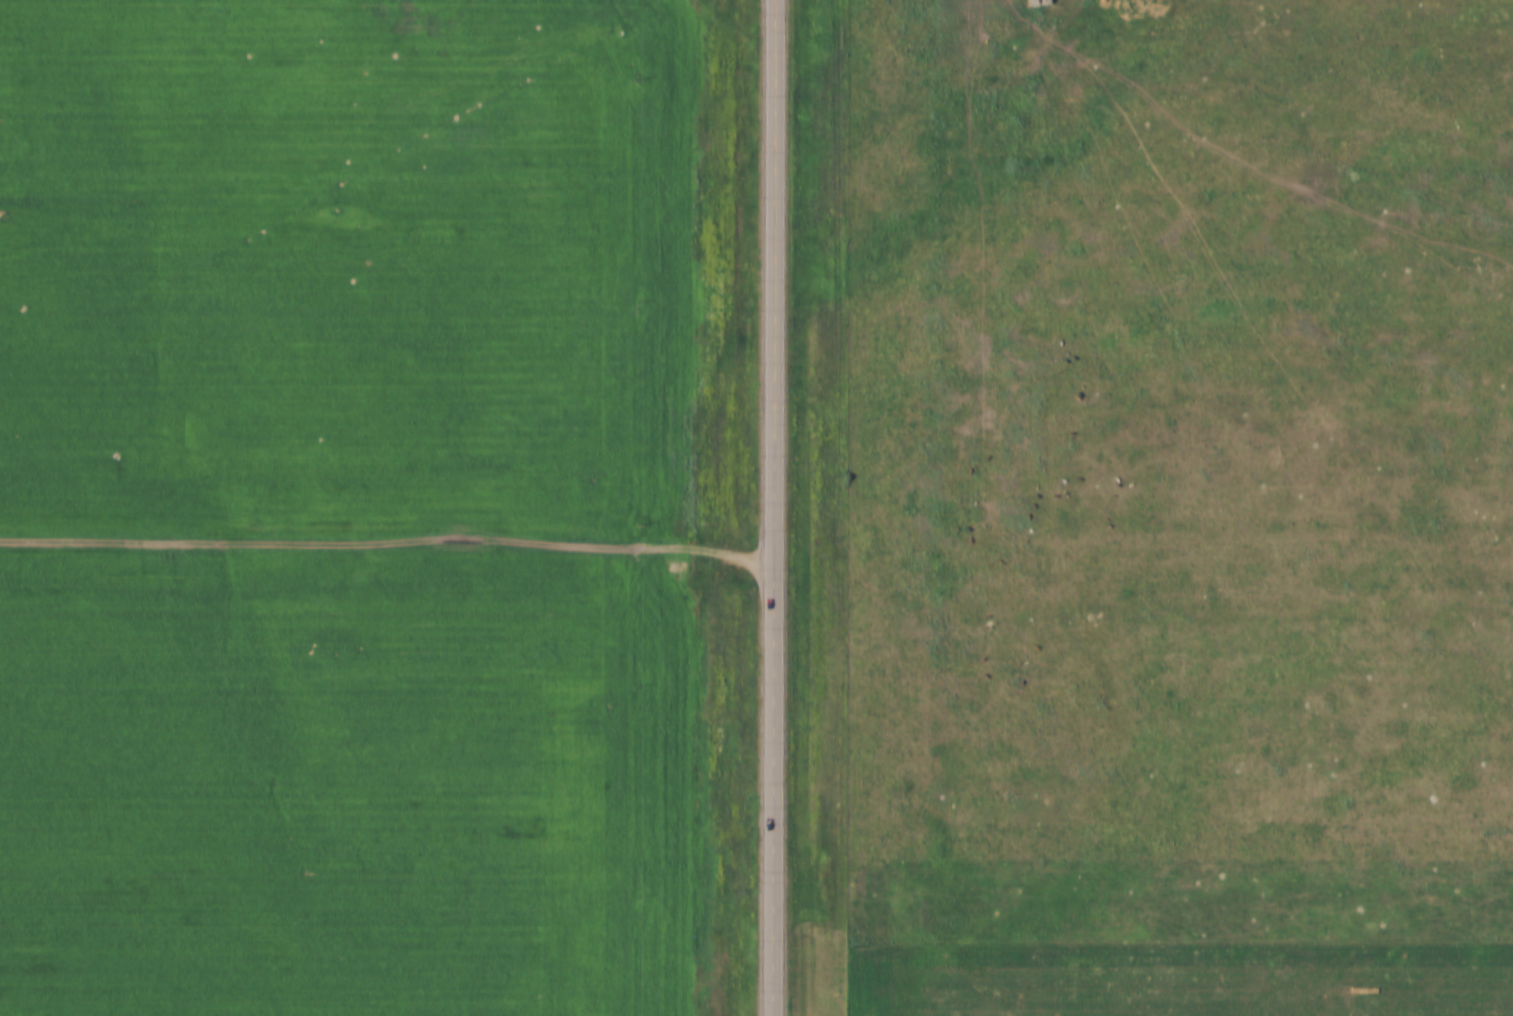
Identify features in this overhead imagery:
road: (778, 507)
crop: (336, 508)
road: (390, 523)

